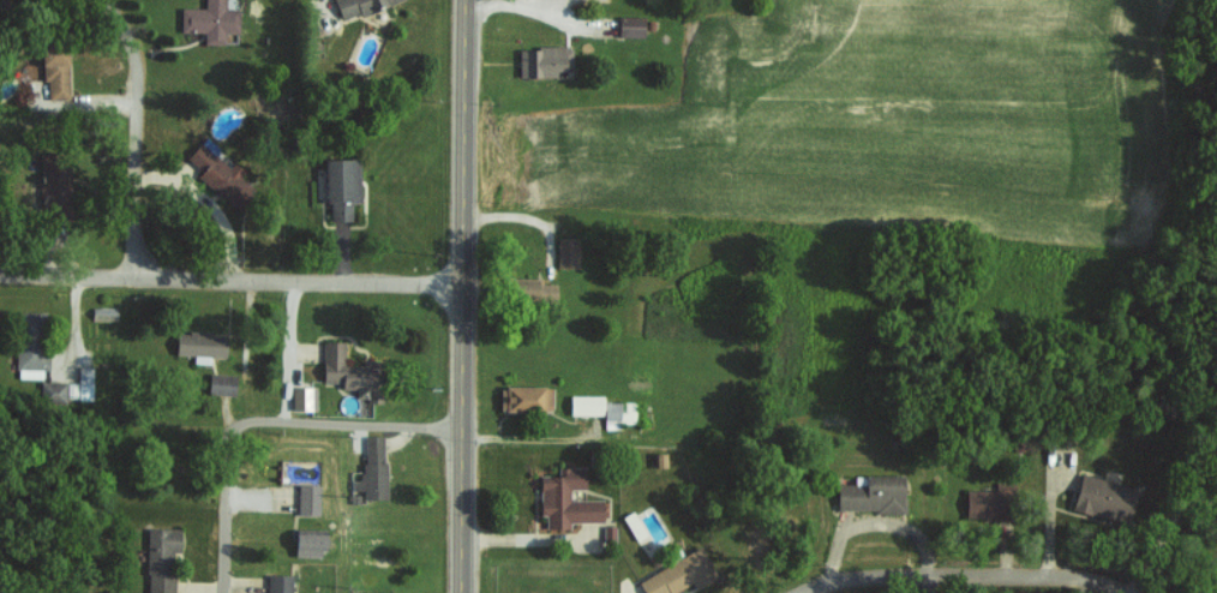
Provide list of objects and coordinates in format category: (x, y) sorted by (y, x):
building: (355, 6)
building: (208, 20)
building: (629, 25)
building: (541, 60)
building: (53, 68)
road: (134, 133)
building: (214, 169)
building: (53, 185)
building: (338, 186)
building: (565, 252)
road: (229, 280)
building: (530, 289)
road: (458, 295)
building: (102, 313)
building: (28, 343)
building: (198, 343)
road: (289, 351)
building: (349, 372)
building: (83, 382)
building: (220, 383)
building: (52, 391)
building: (302, 397)
building: (523, 397)
building: (583, 403)
building: (616, 413)
road: (341, 423)
building: (371, 468)
building: (870, 493)
building: (306, 498)
building: (1103, 498)
building: (564, 499)
building: (982, 504)
road: (226, 513)
building: (631, 525)
building: (306, 541)
building: (158, 558)
building: (677, 573)
road: (951, 574)
building: (277, 583)

